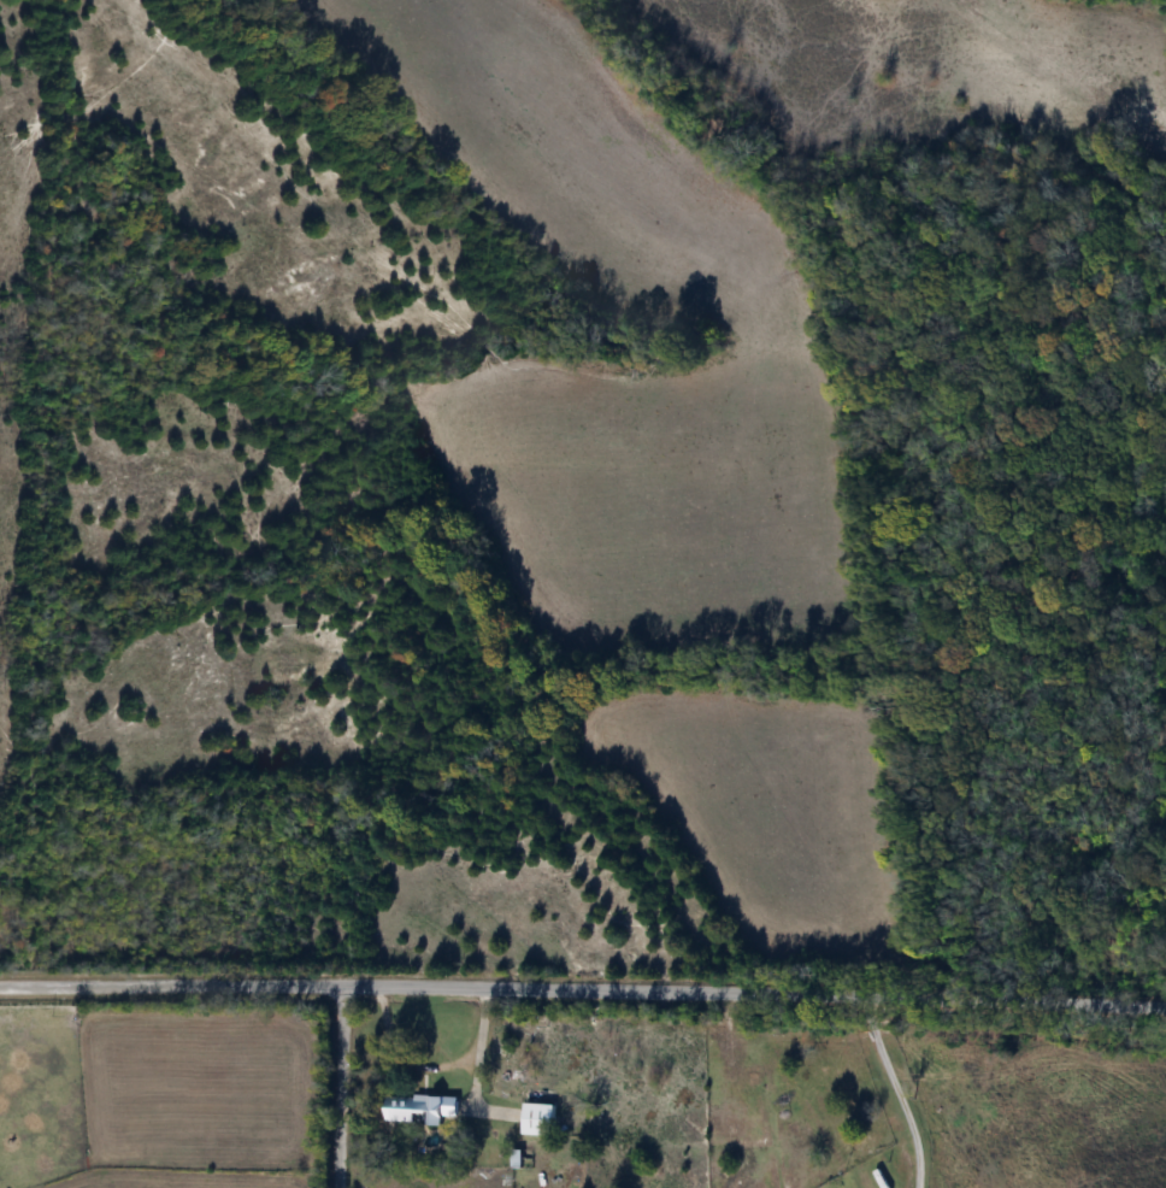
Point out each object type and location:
road: (170, 984)
road: (753, 992)
road: (432, 1064)
road: (338, 1086)
road: (889, 1089)
building: (417, 1108)
building: (535, 1119)

